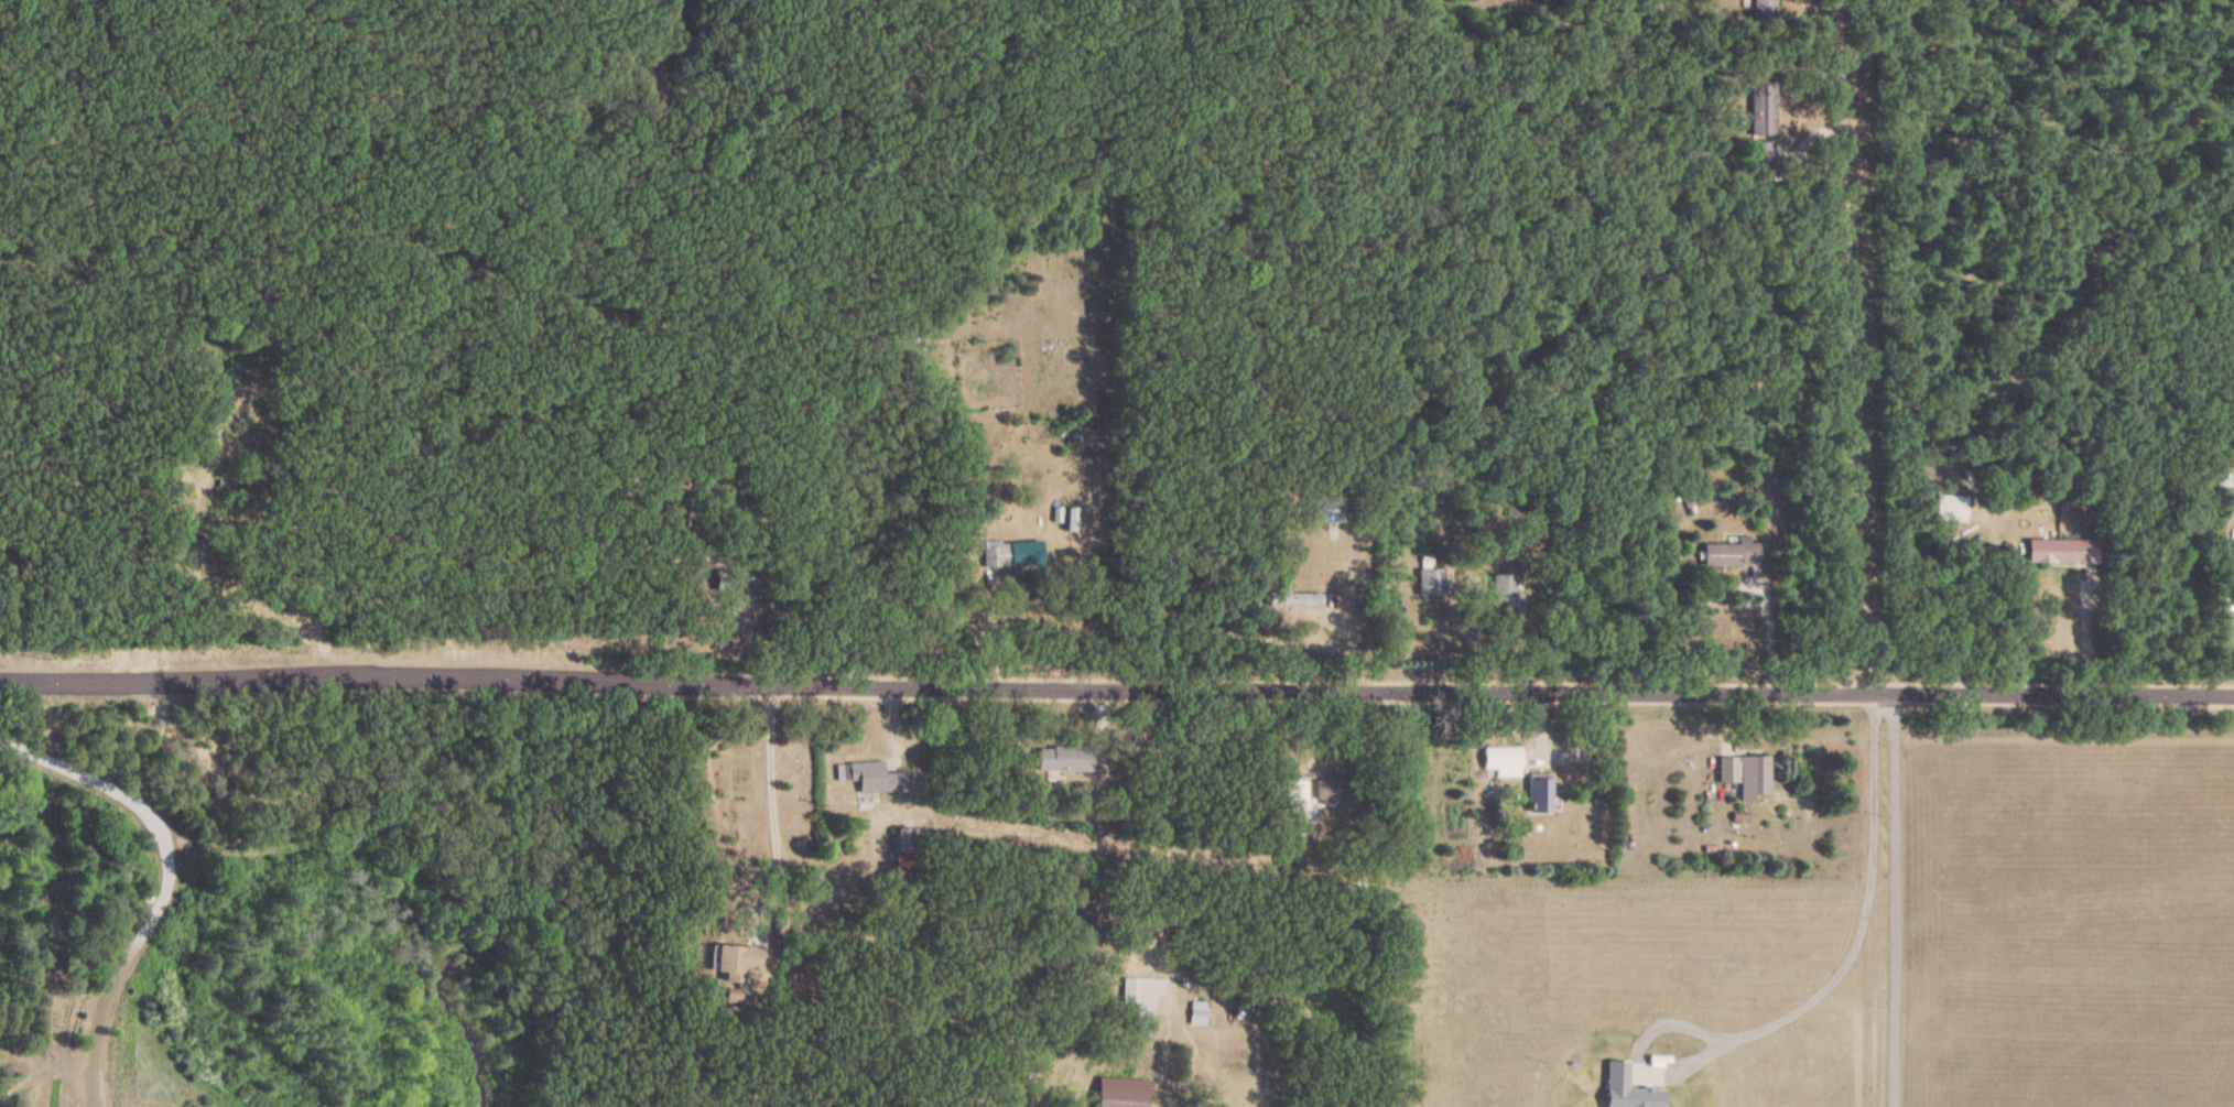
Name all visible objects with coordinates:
building: (1764, 8)
building: (1763, 108)
building: (1761, 153)
road: (1851, 345)
building: (1950, 507)
building: (1333, 509)
building: (2064, 550)
building: (1732, 553)
building: (1011, 554)
building: (756, 576)
building: (728, 577)
building: (1431, 580)
building: (1506, 594)
building: (1293, 597)
road: (2086, 636)
road: (1116, 690)
building: (1063, 759)
building: (1503, 760)
building: (1746, 774)
building: (878, 778)
building: (1348, 792)
building: (1540, 793)
building: (1294, 794)
road: (770, 795)
road: (1153, 812)
road: (171, 884)
road: (1896, 900)
building: (1093, 921)
building: (785, 924)
building: (738, 959)
road: (1814, 994)
building: (1142, 1000)
building: (1196, 1011)
building: (1120, 1097)

